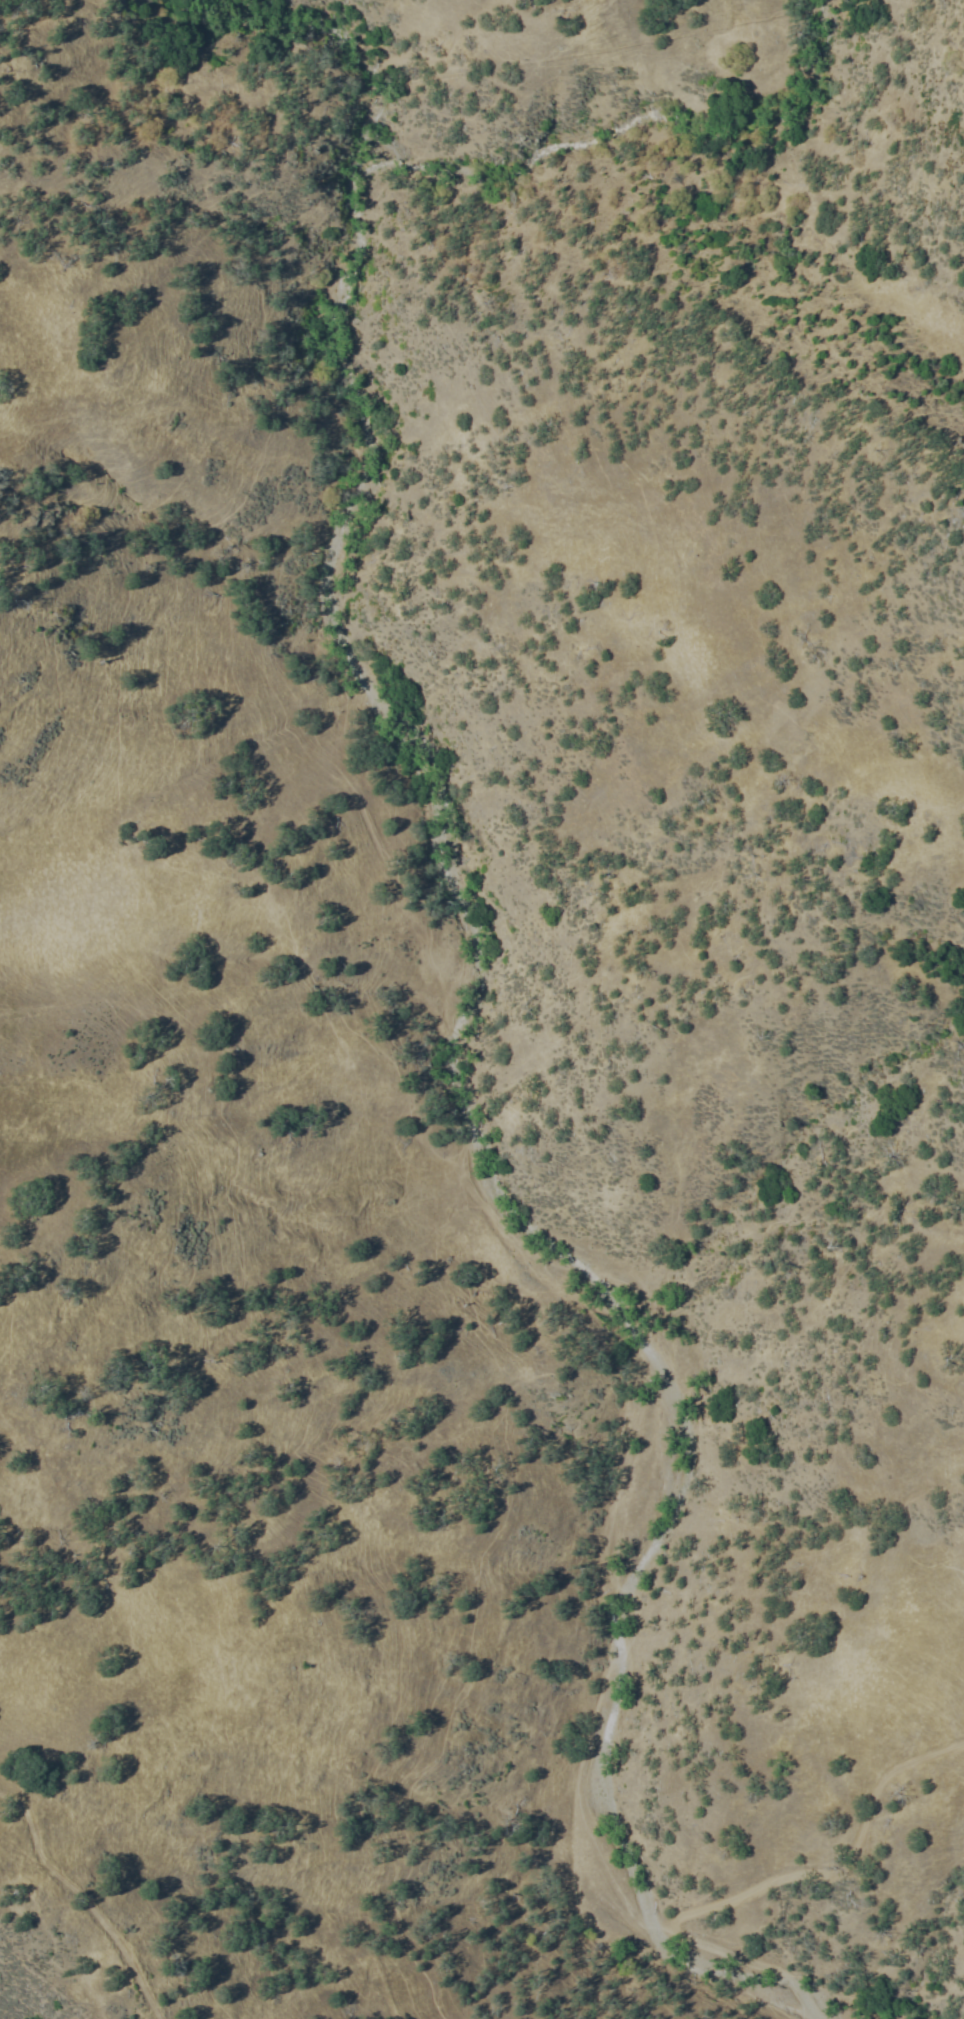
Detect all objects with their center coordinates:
road: (847, 1864)
road: (83, 1899)

